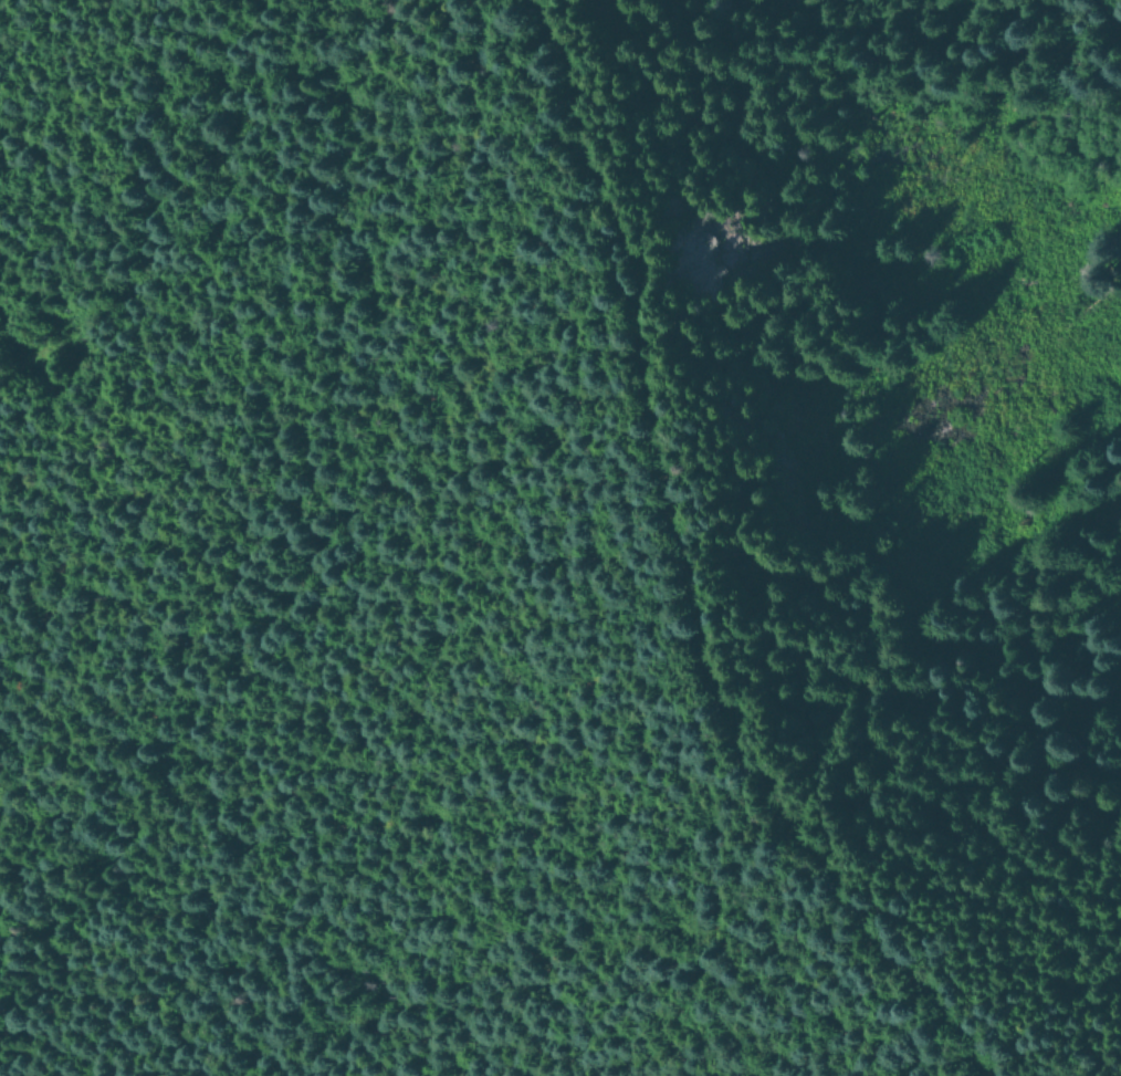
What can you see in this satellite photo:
road: (674, 586)

